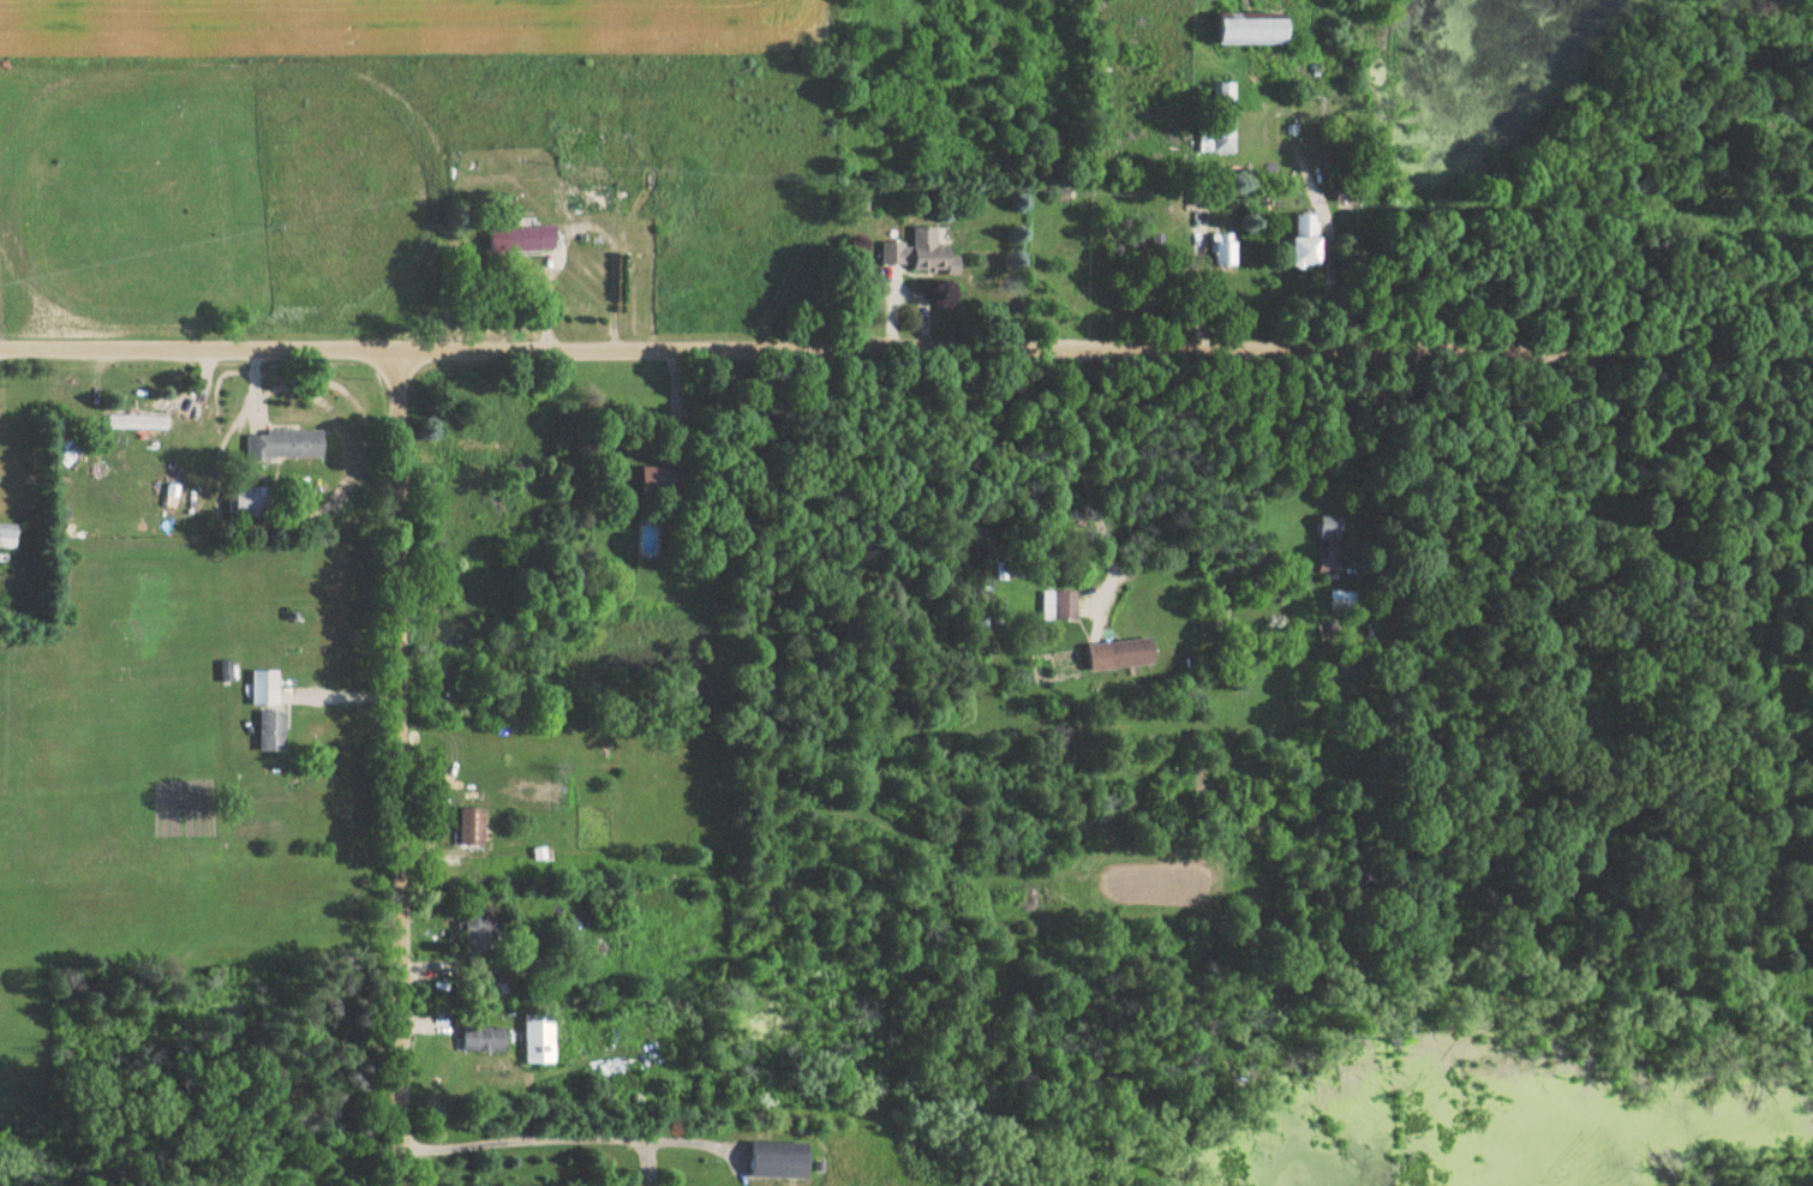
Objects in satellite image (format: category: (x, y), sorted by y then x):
building: (1249, 31)
building: (1221, 119)
road: (1183, 197)
building: (588, 198)
building: (534, 238)
building: (1303, 241)
building: (1222, 253)
building: (921, 254)
road: (905, 348)
building: (137, 423)
building: (283, 444)
building: (474, 453)
road: (1078, 453)
building: (664, 483)
building: (250, 498)
building: (7, 539)
building: (1328, 544)
building: (1342, 604)
building: (1058, 606)
building: (1120, 654)
building: (263, 688)
park: (4, 714)
building: (270, 731)
road: (394, 767)
building: (471, 827)
building: (477, 933)
building: (499, 993)
building: (483, 1040)
building: (538, 1040)
road: (554, 1134)
building: (778, 1160)

